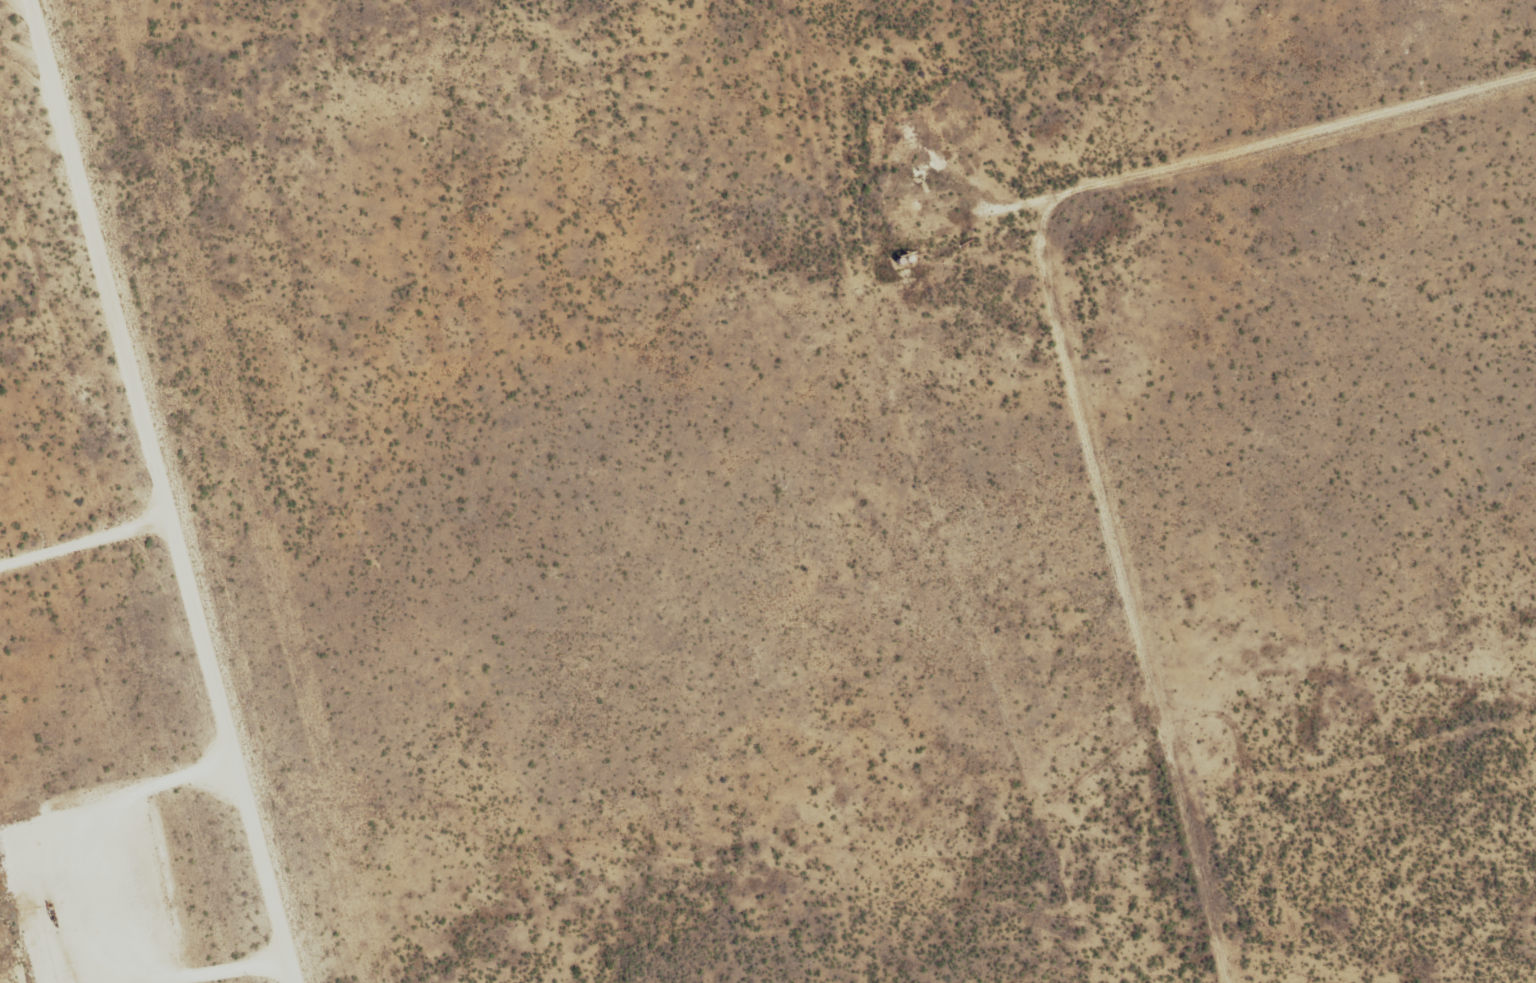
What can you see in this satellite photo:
road: (1100, 386)
road: (194, 491)
road: (97, 520)

